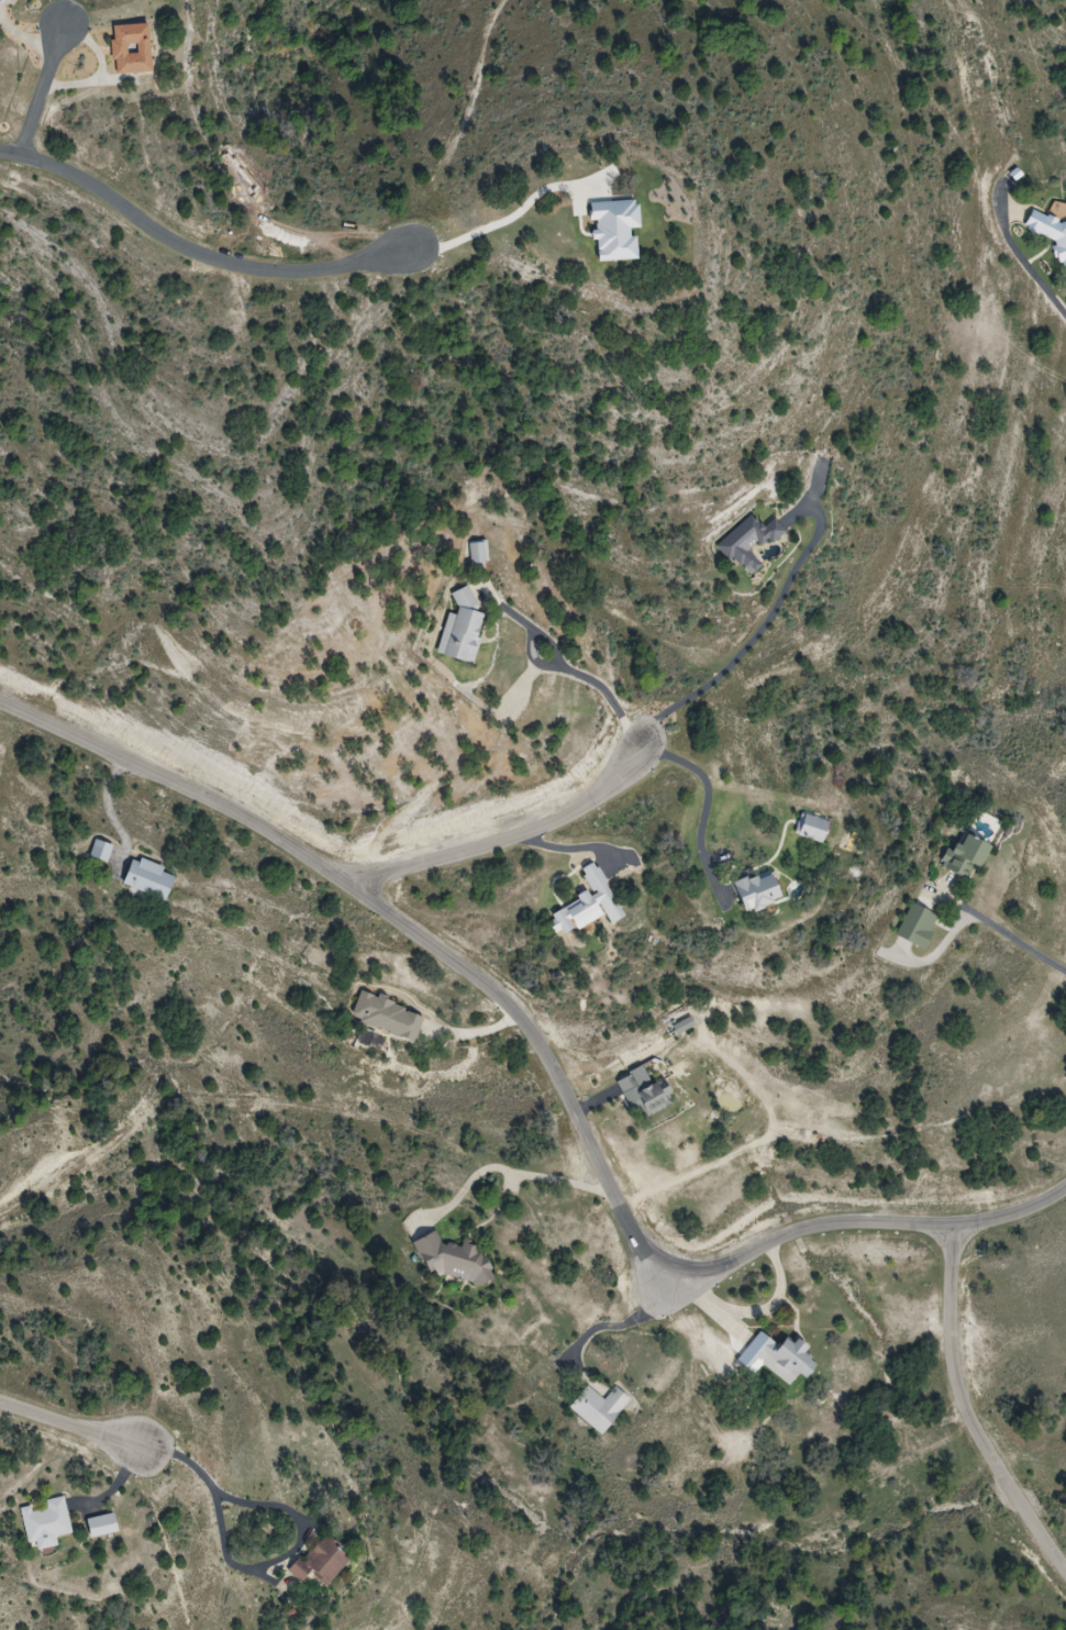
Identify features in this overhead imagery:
road: (29, 41)
building: (133, 51)
road: (54, 75)
building: (1054, 230)
road: (200, 251)
road: (1025, 263)
building: (752, 542)
building: (479, 552)
building: (463, 629)
road: (759, 631)
road: (581, 676)
road: (708, 797)
building: (813, 829)
road: (509, 832)
building: (102, 851)
building: (968, 855)
building: (149, 879)
building: (759, 890)
building: (389, 1017)
road: (547, 1061)
building: (648, 1095)
road: (519, 1171)
building: (456, 1261)
road: (667, 1280)
road: (611, 1327)
building: (785, 1357)
building: (601, 1408)
road: (970, 1416)
road: (76, 1429)
road: (198, 1470)
building: (47, 1524)
building: (103, 1526)
building: (323, 1562)

